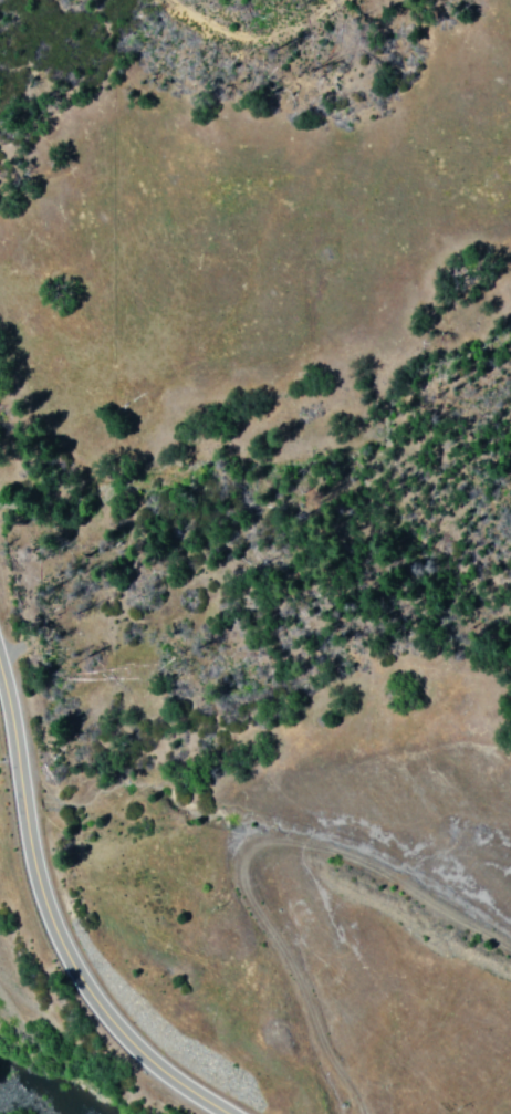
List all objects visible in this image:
road: (51, 887)
river: (76, 1079)

